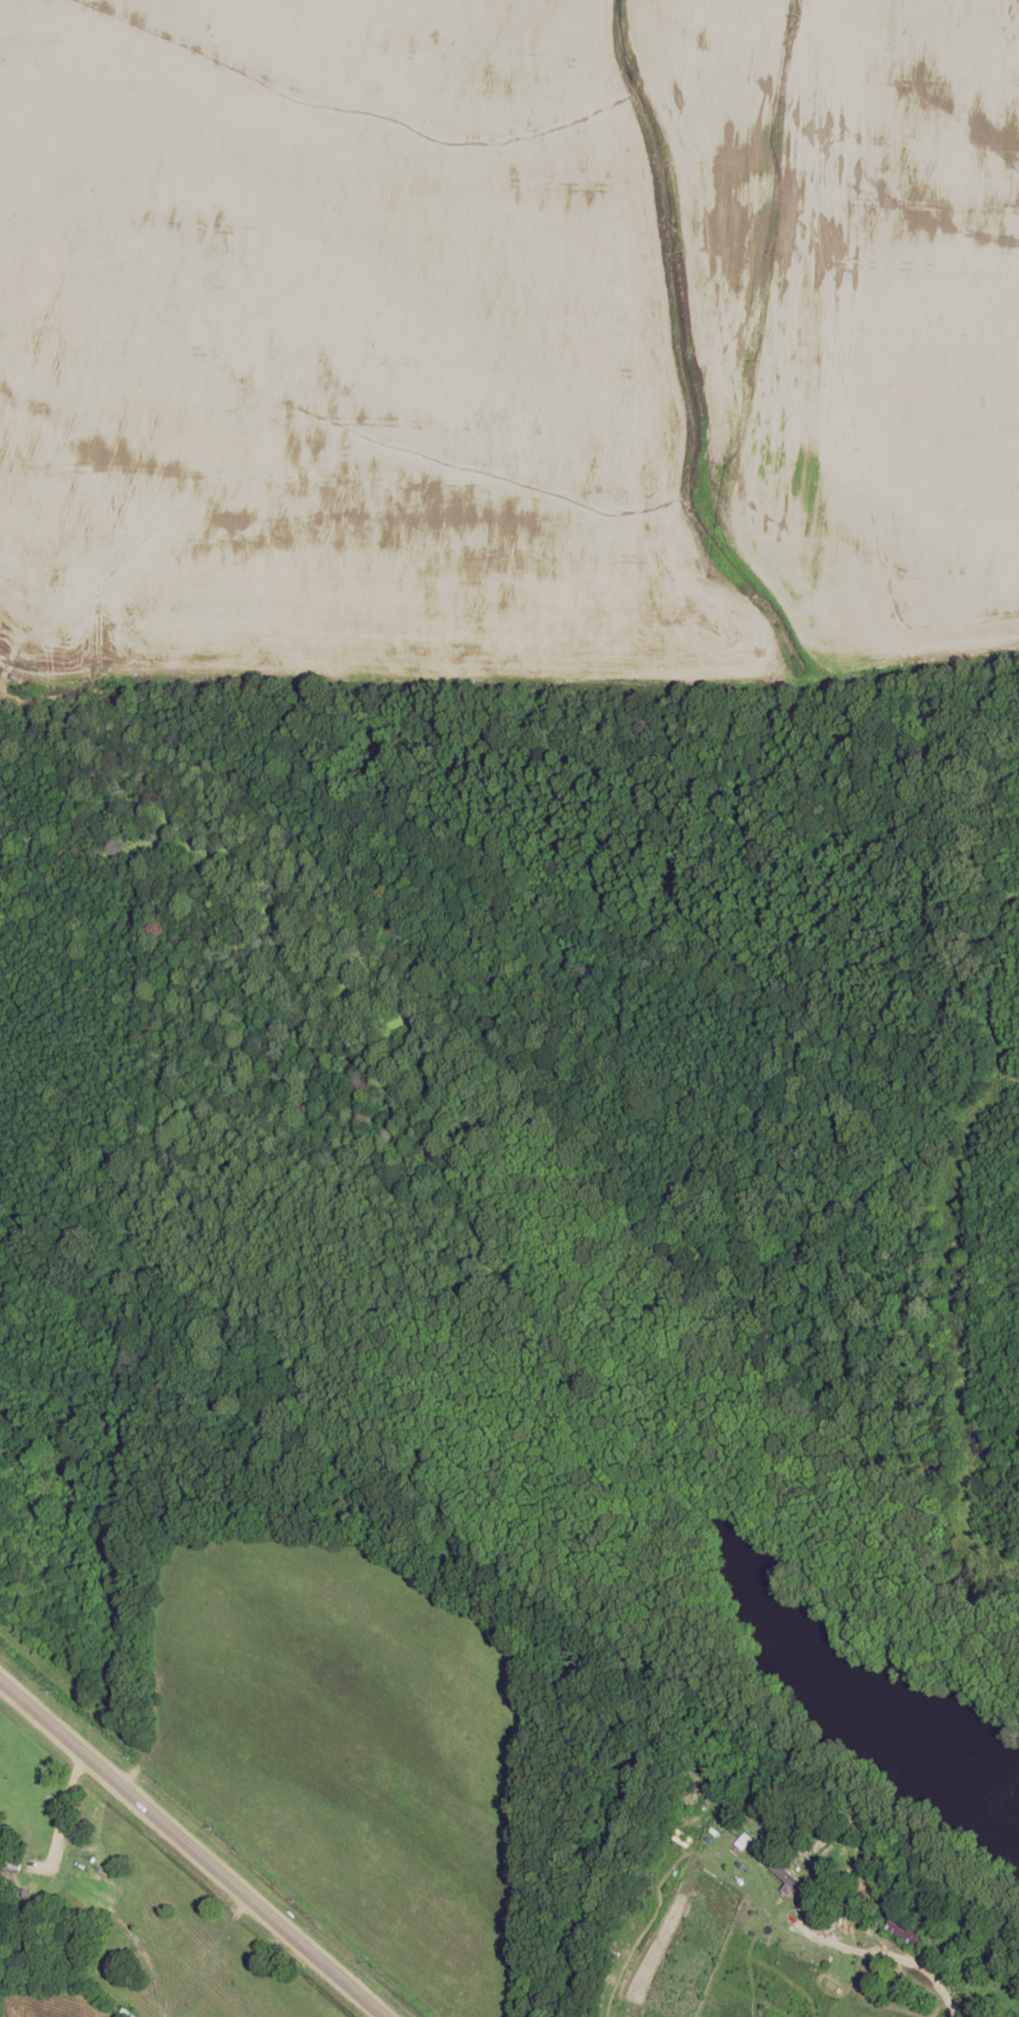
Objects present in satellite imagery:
road: (192, 1847)
building: (10, 1863)
building: (905, 1931)

